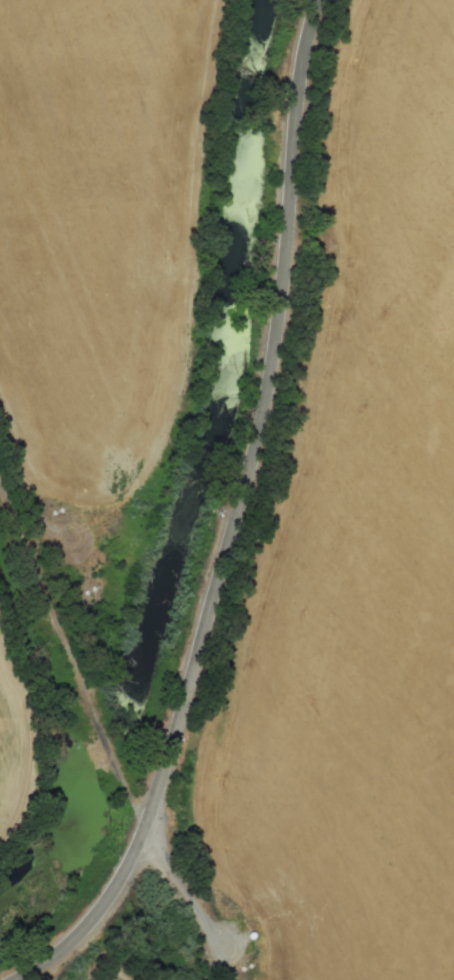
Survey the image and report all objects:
crop: (91, 227)
road: (224, 517)
crop: (356, 548)
road: (187, 892)

